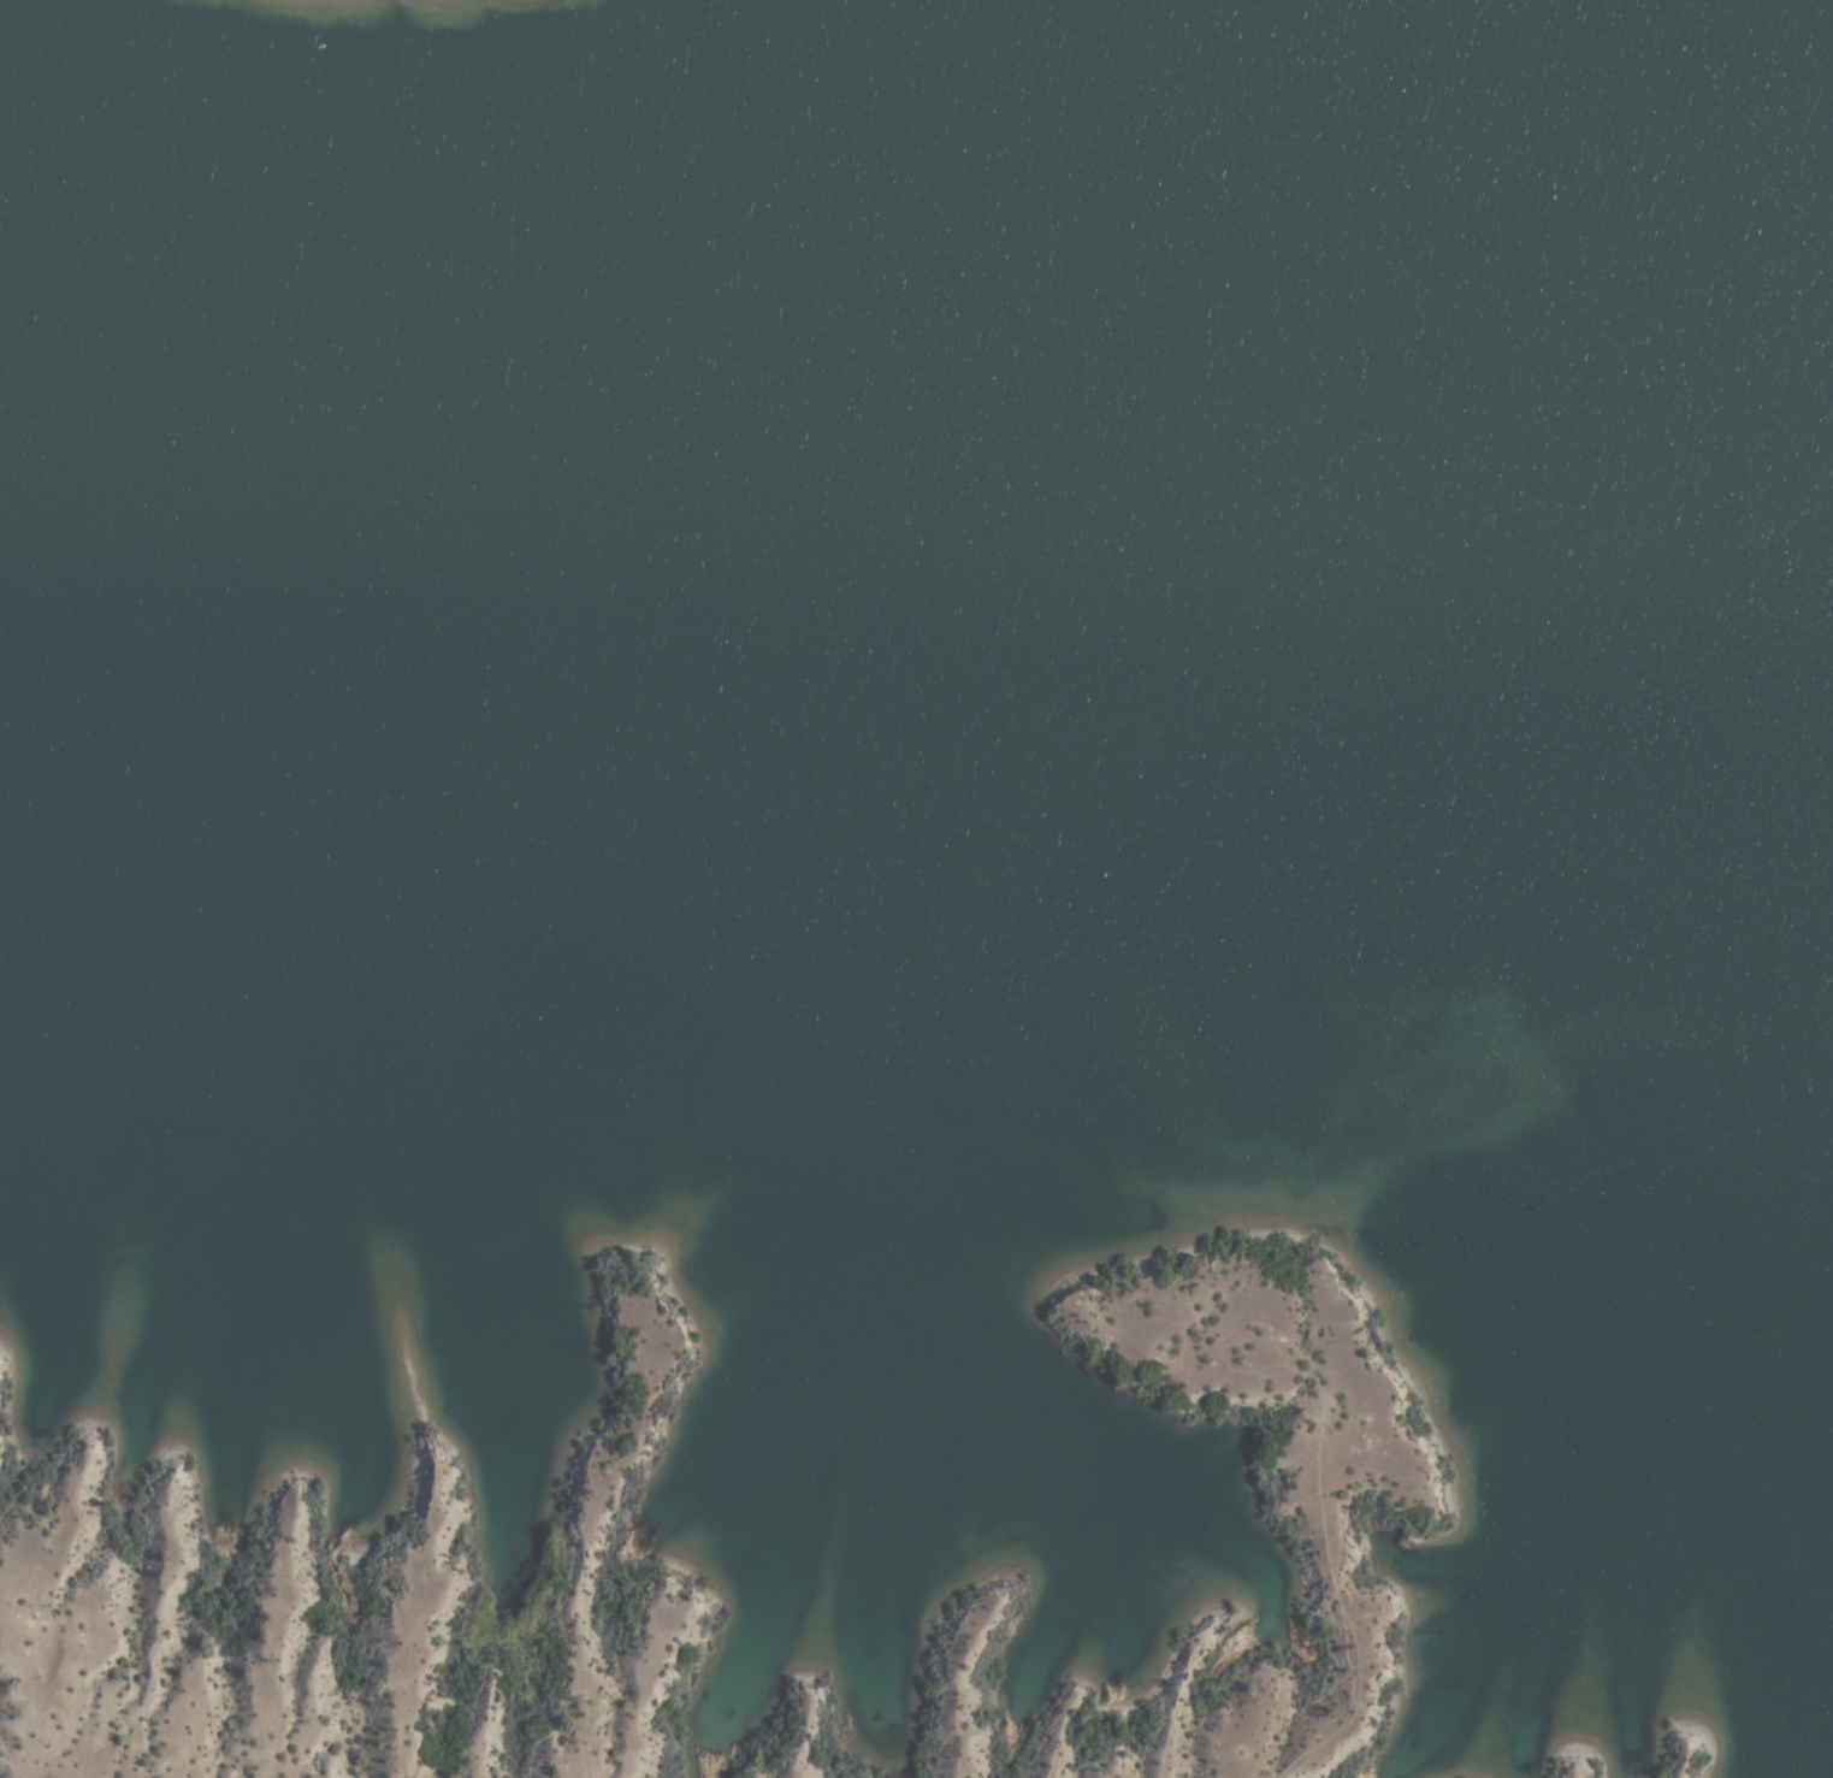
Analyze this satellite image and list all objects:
park: (465, 1)
river: (910, 610)

